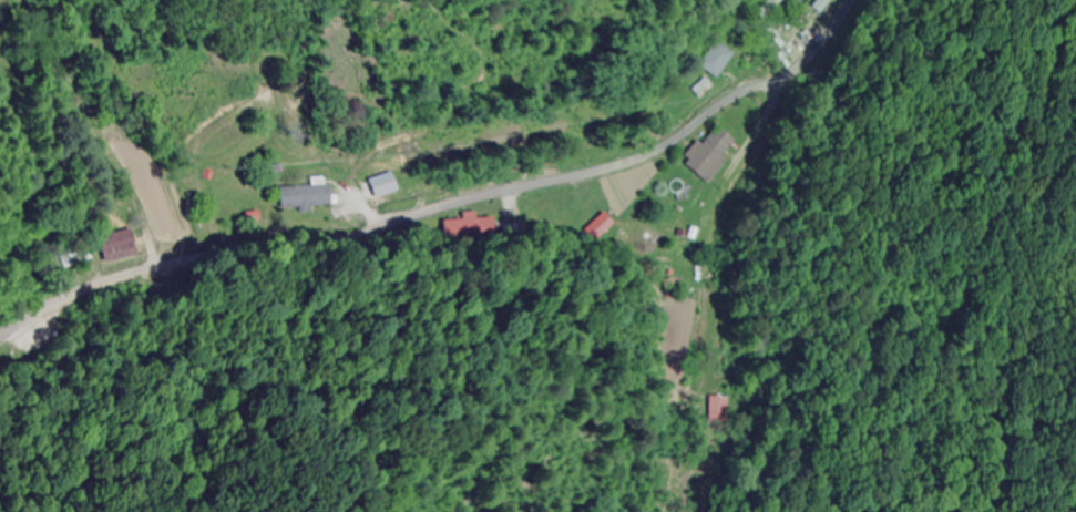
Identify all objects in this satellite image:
building: (714, 60)
building: (707, 155)
building: (381, 186)
building: (303, 196)
road: (445, 206)
building: (469, 226)

